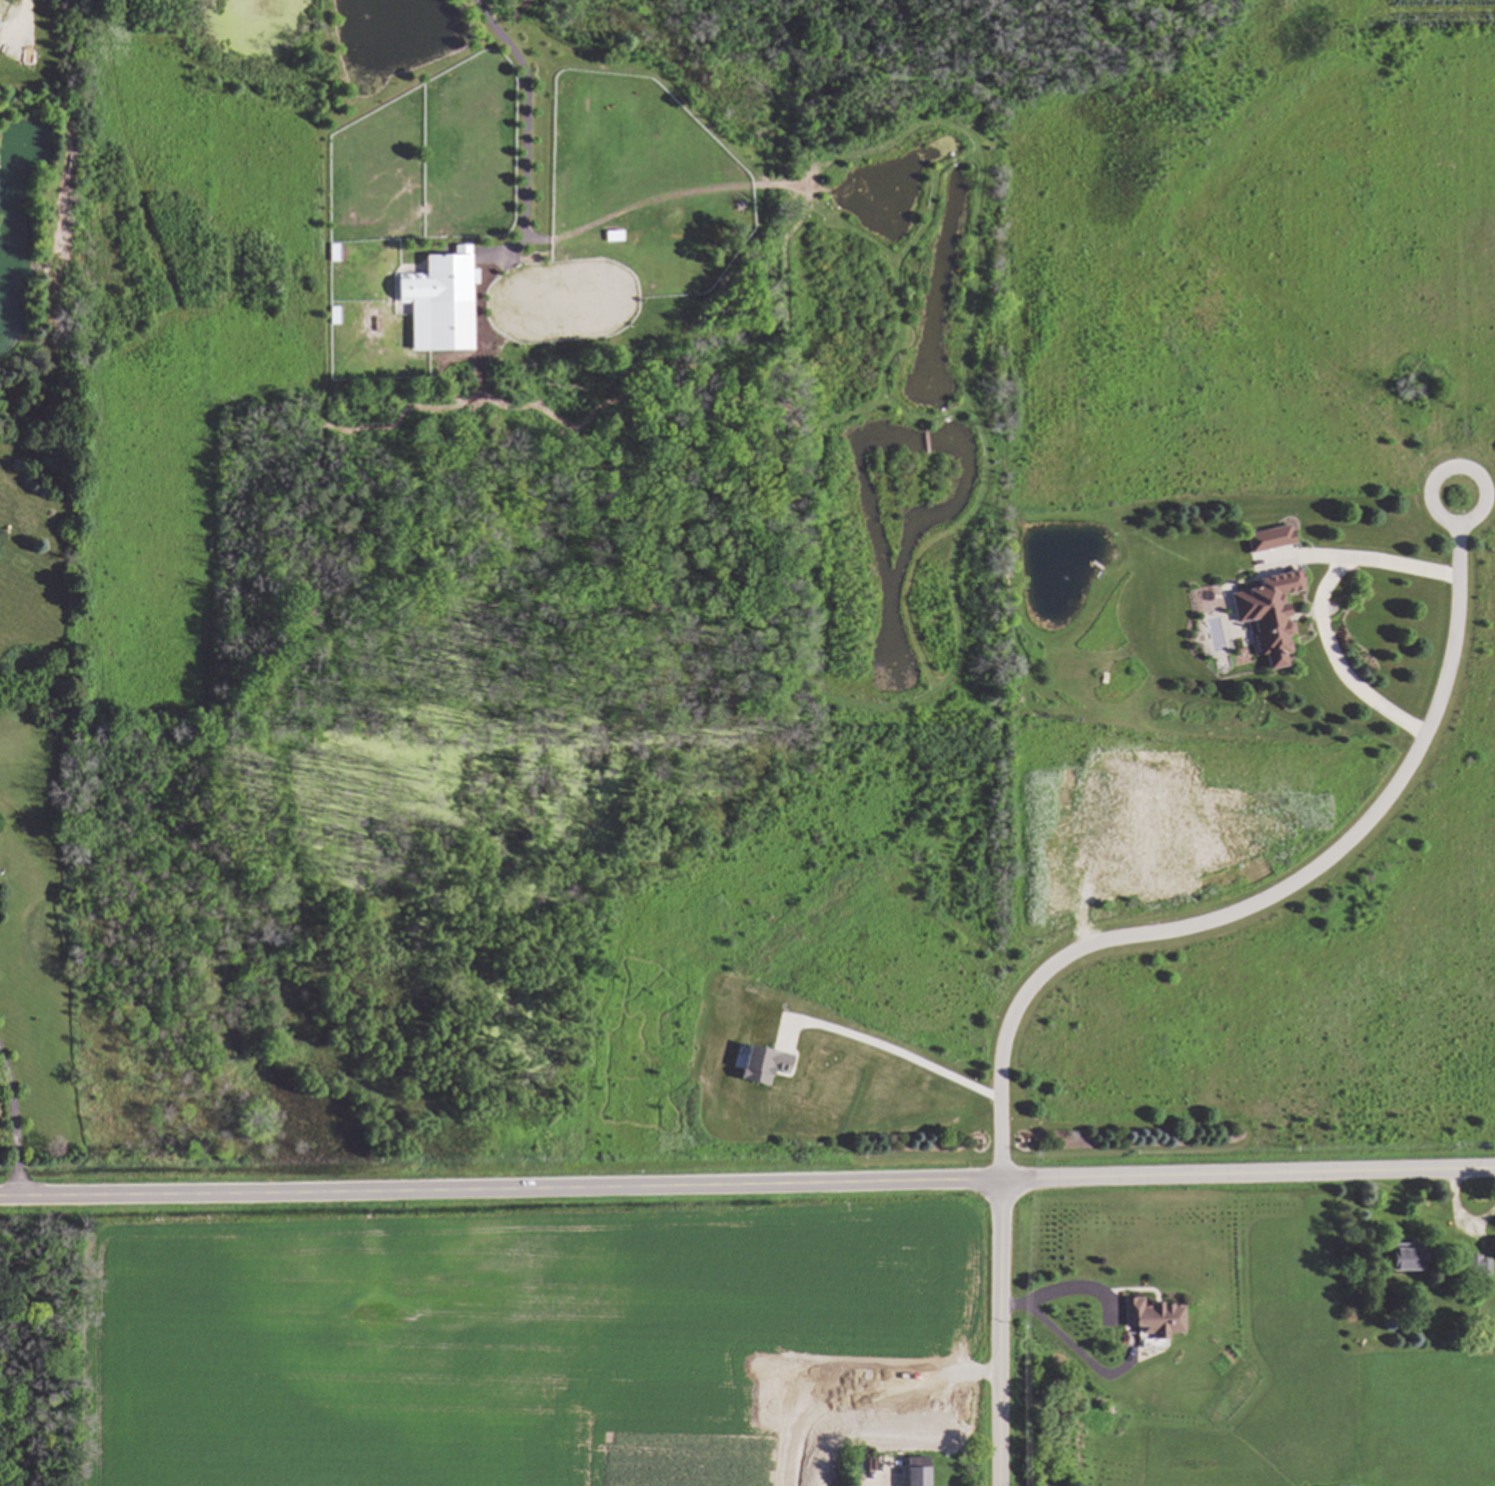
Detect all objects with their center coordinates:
road: (29, 4)
road: (526, 133)
building: (440, 304)
road: (1485, 495)
building: (1267, 539)
road: (1317, 608)
building: (1264, 615)
road: (1263, 901)
road: (909, 1055)
road: (13, 1125)
road: (747, 1183)
building: (1405, 1259)
building: (1479, 1267)
road: (1047, 1294)
building: (1150, 1317)
road: (1000, 1332)
road: (1068, 1344)
building: (915, 1471)

